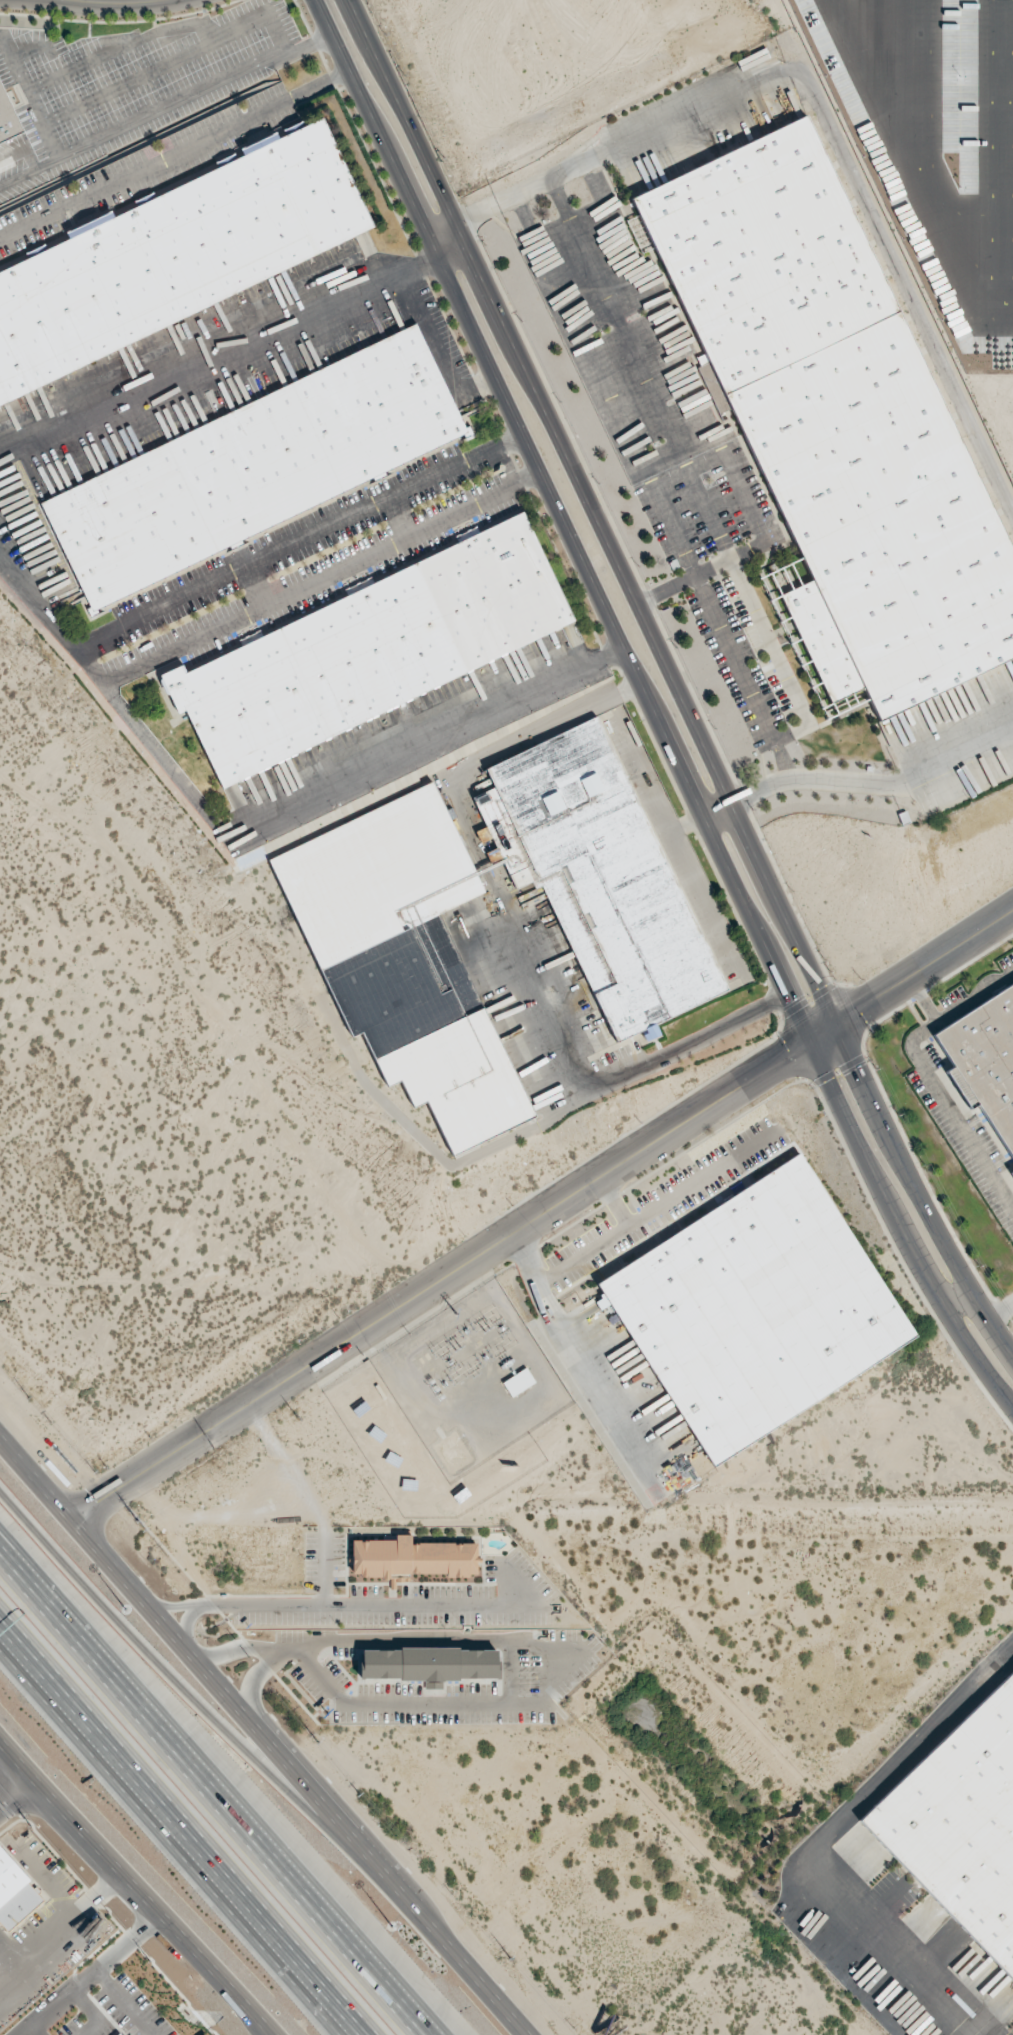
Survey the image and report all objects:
road: (115, 3)
building: (8, 119)
road: (175, 151)
road: (447, 238)
building: (172, 254)
road: (421, 264)
road: (275, 331)
building: (838, 414)
building: (253, 467)
building: (368, 649)
road: (92, 663)
road: (674, 681)
road: (653, 707)
road: (335, 784)
building: (600, 877)
road: (513, 935)
building: (404, 960)
road: (975, 997)
traffic signals: (792, 999)
traffic signals: (864, 1007)
building: (986, 1057)
traffic signals: (784, 1063)
traffic signals: (858, 1069)
road: (940, 1090)
building: (1012, 1172)
road: (616, 1201)
road: (542, 1215)
road: (631, 1223)
road: (958, 1298)
building: (757, 1309)
building: (518, 1382)
power substation: (450, 1405)
building: (413, 1558)
road: (57, 1612)
road: (248, 1622)
road: (441, 1624)
road: (275, 1649)
building: (429, 1664)
road: (213, 1676)
road: (205, 1709)
road: (16, 1795)
road: (211, 1795)
road: (160, 1799)
building: (960, 1824)
road: (822, 1833)
road: (136, 1890)
building: (15, 1893)
road: (103, 1970)
road: (480, 1974)
road: (340, 2008)
road: (345, 2008)

